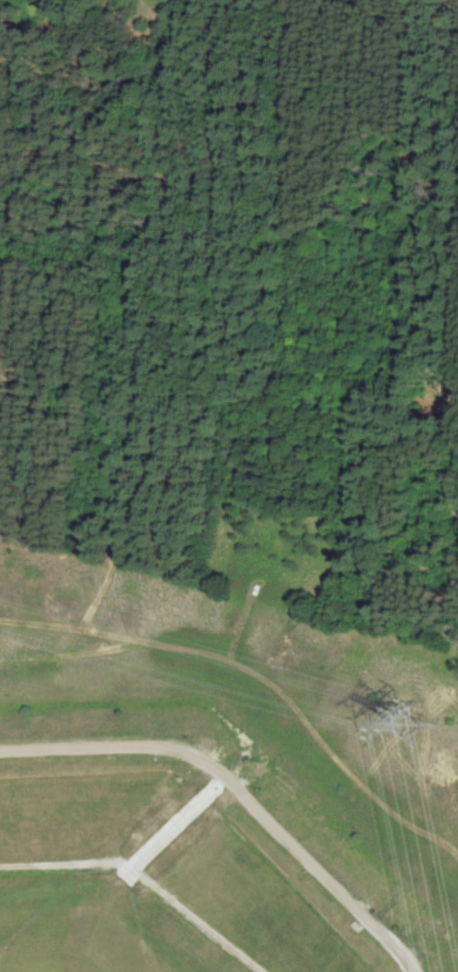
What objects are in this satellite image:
power tower: (428, 733)

